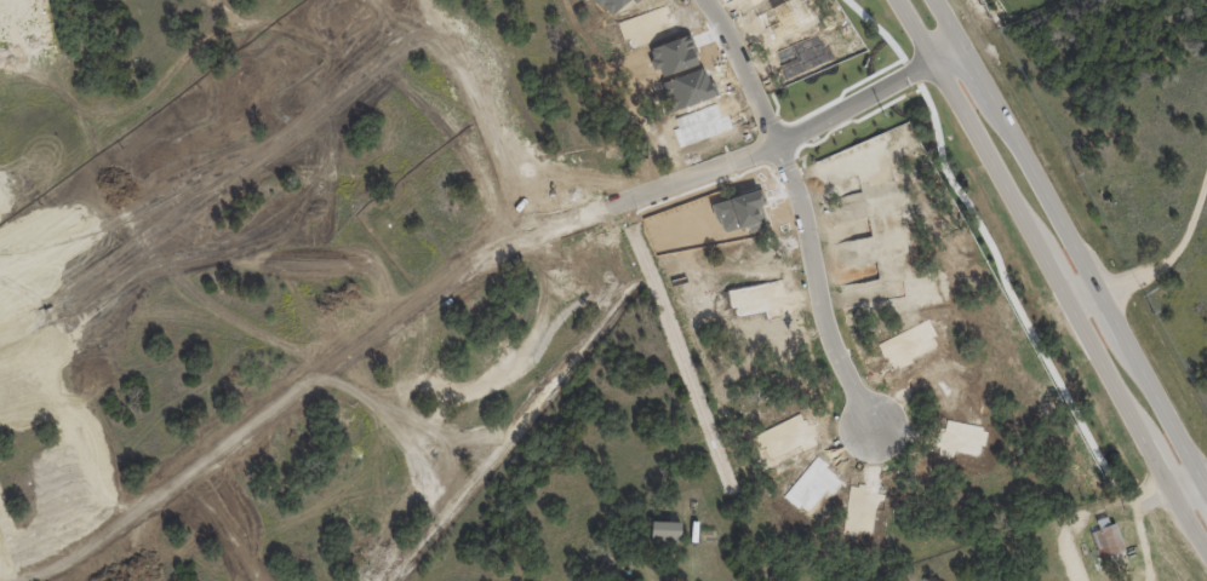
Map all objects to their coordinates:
road: (51, 36)
road: (493, 105)
road: (221, 174)
road: (806, 205)
road: (1063, 223)
road: (1175, 254)
road: (1052, 275)
road: (444, 277)
building: (507, 358)
building: (431, 379)
road: (1196, 466)
road: (1180, 472)
building: (401, 510)
road: (229, 522)
road: (1140, 524)
building: (665, 530)
building: (1119, 543)
road: (1071, 559)
road: (2, 573)
building: (617, 580)

